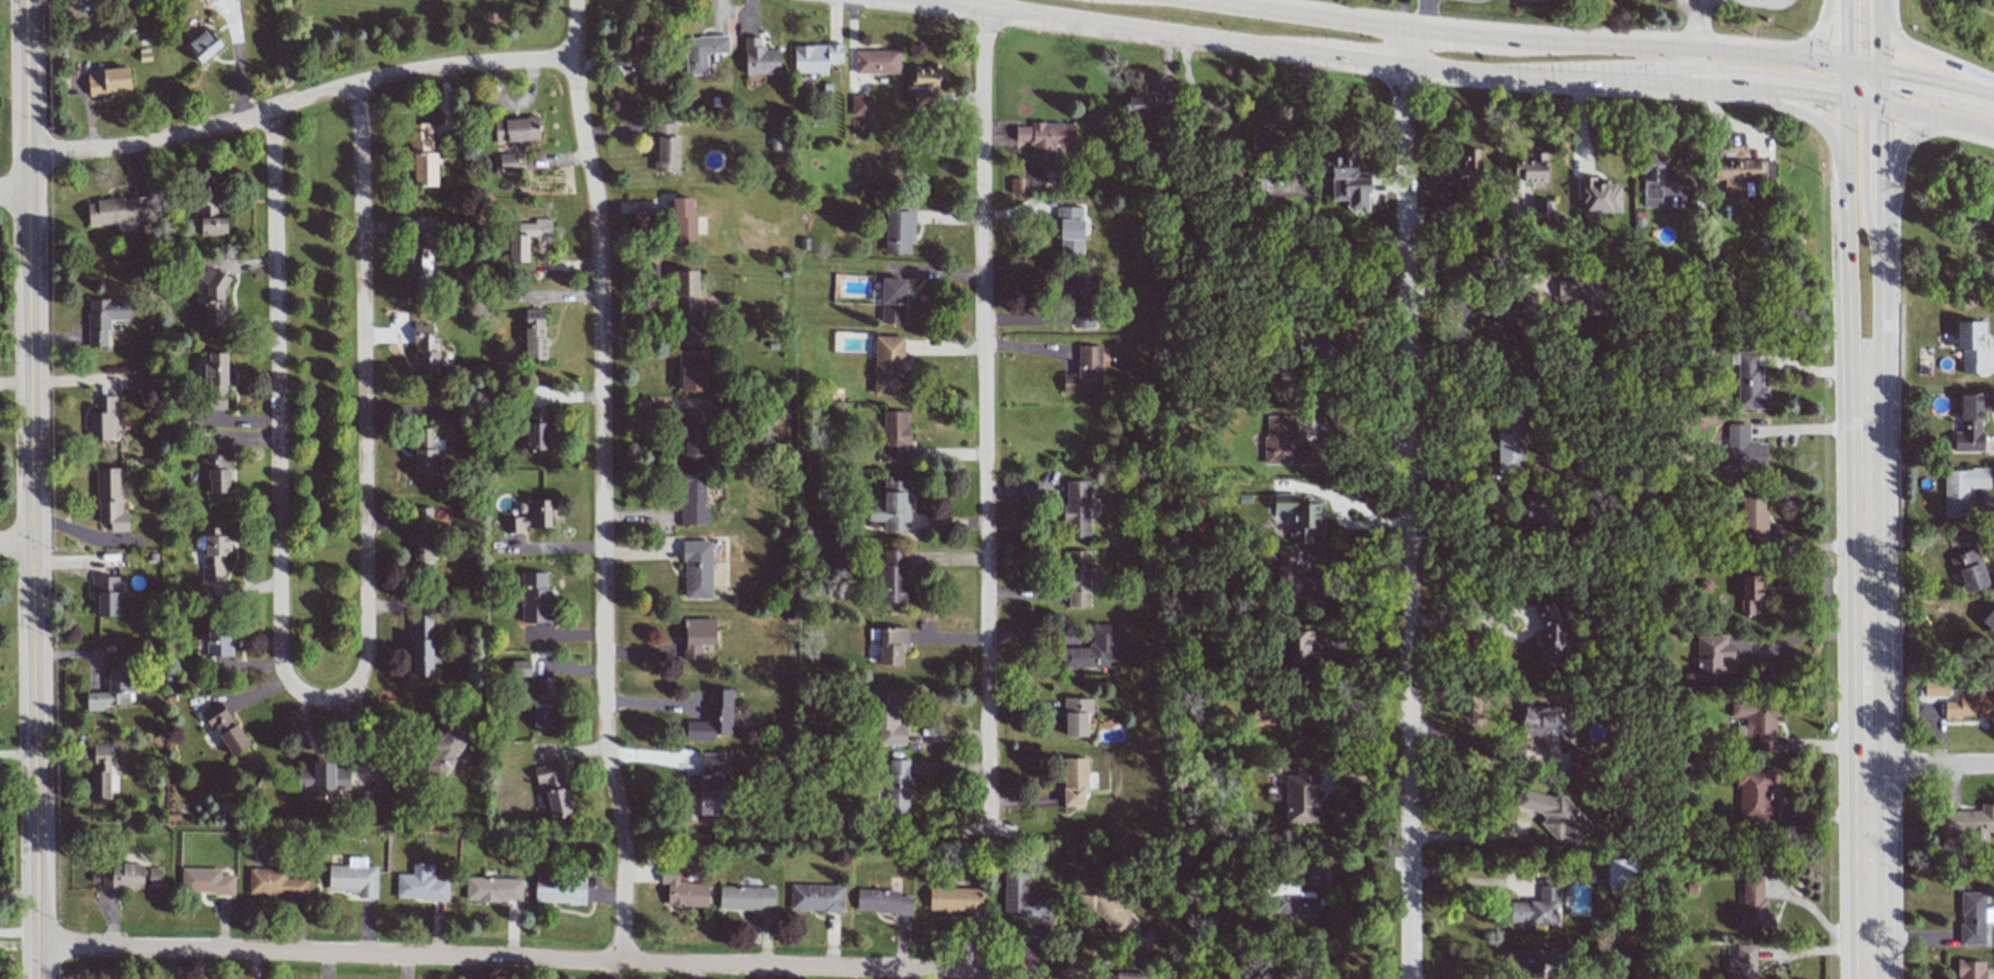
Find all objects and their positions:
building: (234, 0)
road: (1421, 19)
road: (1133, 26)
road: (1694, 27)
road: (1445, 32)
road: (1847, 34)
road: (1859, 35)
building: (645, 39)
road: (1808, 43)
road: (1879, 44)
building: (203, 45)
road: (1403, 47)
building: (702, 52)
road: (1927, 53)
road: (1694, 55)
building: (815, 57)
building: (760, 58)
road: (1366, 59)
building: (876, 61)
road: (1772, 61)
road: (1697, 63)
road: (235, 64)
traffic signals: (1848, 69)
road: (1855, 69)
road: (1711, 71)
traffic signals: (1880, 72)
road: (1489, 73)
road: (1854, 74)
road: (1864, 75)
road: (1847, 76)
road: (1873, 77)
building: (108, 80)
building: (926, 81)
road: (1862, 81)
road: (1853, 83)
road: (1928, 83)
road: (1867, 84)
road: (1711, 85)
road: (1860, 85)
road: (1864, 88)
road: (1874, 88)
road: (1847, 92)
road: (1852, 93)
road: (1673, 95)
road: (1862, 95)
road: (1880, 97)
road: (1871, 98)
road: (1936, 100)
road: (300, 101)
traffic signals: (1847, 101)
road: (1855, 102)
building: (1136, 104)
road: (1871, 104)
building: (861, 105)
traffic signals: (1880, 105)
road: (1937, 117)
building: (516, 129)
building: (1220, 135)
building: (1045, 137)
building: (1263, 143)
building: (666, 147)
building: (423, 156)
building: (507, 163)
road: (1899, 165)
building: (1530, 168)
building: (1463, 171)
building: (1742, 171)
building: (1653, 177)
building: (1348, 182)
road: (1863, 183)
road: (1880, 183)
building: (1015, 185)
building: (1259, 189)
road: (14, 194)
building: (1599, 196)
building: (119, 213)
building: (1983, 214)
building: (1544, 215)
building: (211, 216)
building: (683, 223)
building: (899, 229)
building: (1070, 230)
building: (526, 238)
building: (422, 253)
road: (1846, 261)
building: (1581, 294)
building: (686, 295)
building: (1079, 297)
building: (214, 298)
building: (893, 301)
building: (1513, 311)
building: (104, 318)
building: (535, 334)
road: (1879, 340)
building: (1971, 346)
building: (425, 359)
building: (1289, 361)
road: (1329, 363)
building: (888, 365)
building: (692, 371)
building: (1085, 371)
building: (216, 380)
building: (1749, 381)
road: (363, 403)
building: (778, 417)
road: (277, 418)
building: (104, 419)
road: (987, 422)
building: (1970, 423)
road: (1811, 427)
building: (536, 428)
building: (693, 435)
building: (895, 436)
building: (1286, 443)
building: (1510, 443)
road: (1323, 448)
building: (1744, 449)
building: (427, 452)
building: (217, 478)
road: (32, 489)
road: (602, 489)
building: (1961, 489)
building: (110, 499)
building: (693, 500)
building: (892, 506)
building: (1076, 510)
building: (1527, 513)
building: (1301, 515)
building: (529, 516)
building: (1753, 516)
road: (1407, 521)
road: (1342, 522)
building: (422, 537)
road: (1810, 546)
road: (16, 547)
road: (549, 547)
building: (215, 553)
road: (1353, 559)
building: (697, 569)
building: (1970, 570)
building: (893, 575)
building: (1078, 579)
building: (1296, 580)
road: (1867, 591)
building: (1749, 593)
building: (105, 595)
building: (535, 598)
building: (1989, 621)
road: (1460, 624)
building: (1550, 634)
road: (1804, 634)
building: (697, 636)
building: (219, 640)
building: (422, 645)
building: (891, 645)
building: (1298, 648)
building: (1093, 649)
building: (1712, 659)
building: (520, 668)
building: (1935, 687)
building: (111, 688)
building: (544, 704)
building: (1969, 705)
road: (1331, 710)
building: (1264, 713)
building: (1076, 716)
building: (713, 717)
building: (888, 718)
building: (1758, 720)
building: (224, 727)
road: (1462, 748)
building: (446, 750)
road: (17, 754)
road: (1931, 765)
building: (100, 773)
building: (323, 777)
building: (1074, 783)
building: (704, 786)
building: (898, 786)
building: (553, 788)
building: (1757, 795)
building: (1302, 796)
building: (1555, 815)
building: (1971, 823)
road: (1869, 872)
building: (1621, 874)
building: (1316, 875)
building: (130, 877)
building: (354, 878)
road: (1469, 880)
building: (206, 881)
building: (275, 883)
building: (421, 885)
building: (493, 889)
building: (559, 889)
building: (682, 890)
building: (746, 897)
building: (816, 898)
building: (1023, 898)
building: (956, 900)
building: (882, 902)
building: (1296, 904)
building: (1106, 908)
building: (1536, 908)
building: (1753, 908)
road: (1818, 914)
building: (1971, 918)
road: (18, 930)
road: (1817, 949)
road: (540, 959)
building: (1526, 962)
building: (1742, 963)
building: (1971, 970)
building: (1130, 975)

